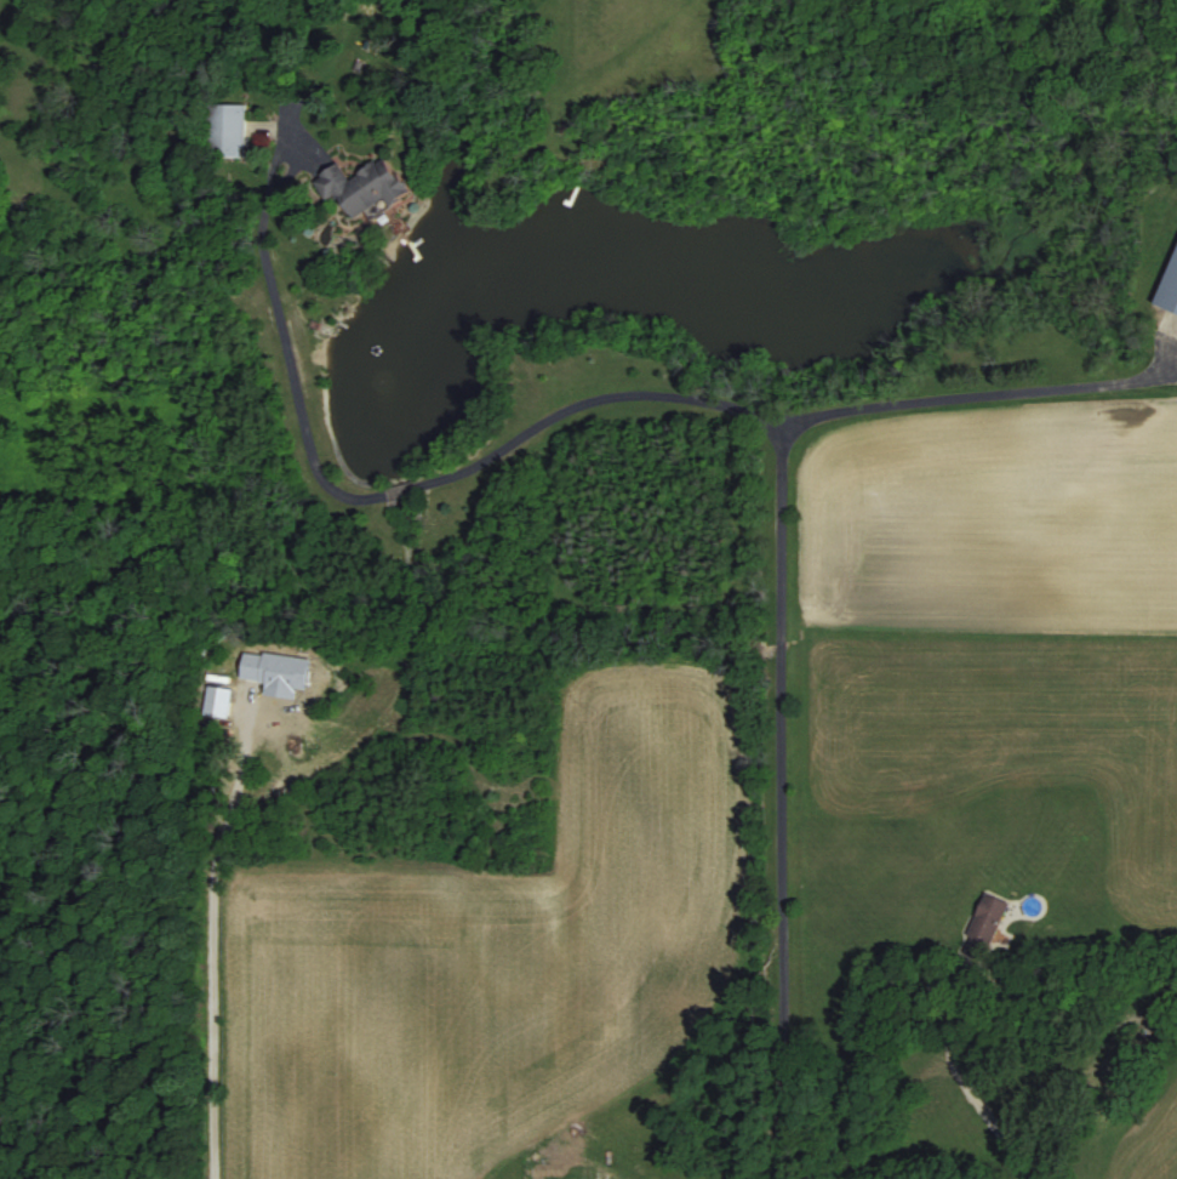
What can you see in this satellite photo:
building: (225, 129)
building: (364, 183)
building: (1170, 287)
road: (970, 393)
road: (752, 415)
building: (985, 925)
road: (215, 953)
road: (959, 1076)
road: (549, 1164)

